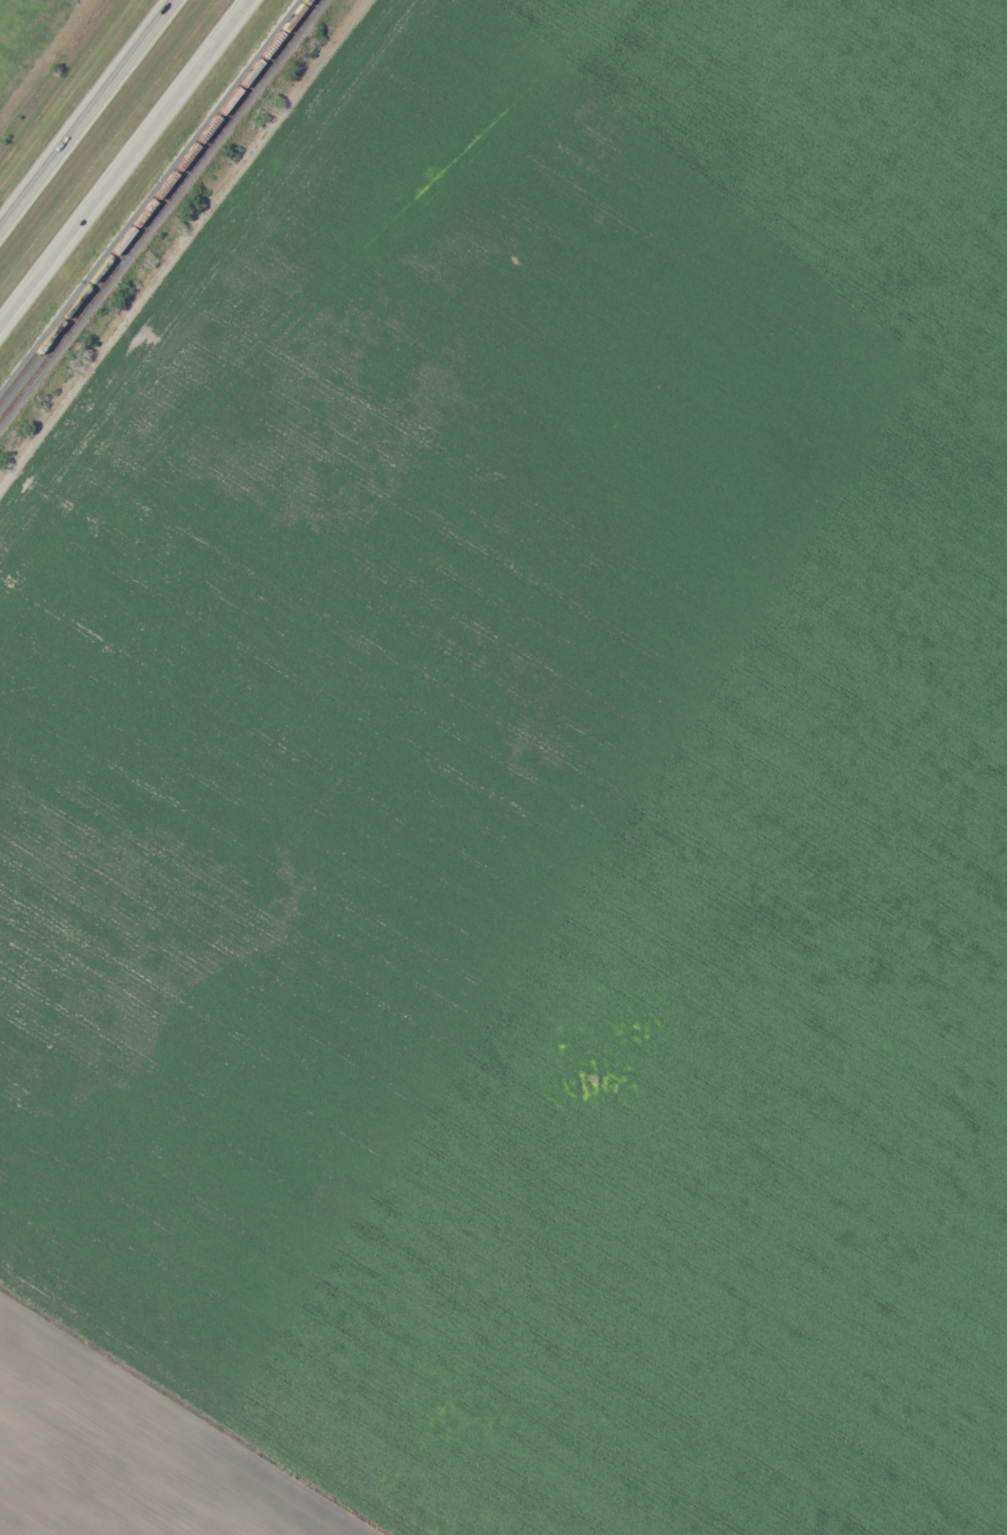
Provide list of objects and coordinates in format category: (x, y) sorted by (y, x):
road: (89, 116)
road: (125, 164)
railway: (161, 212)

